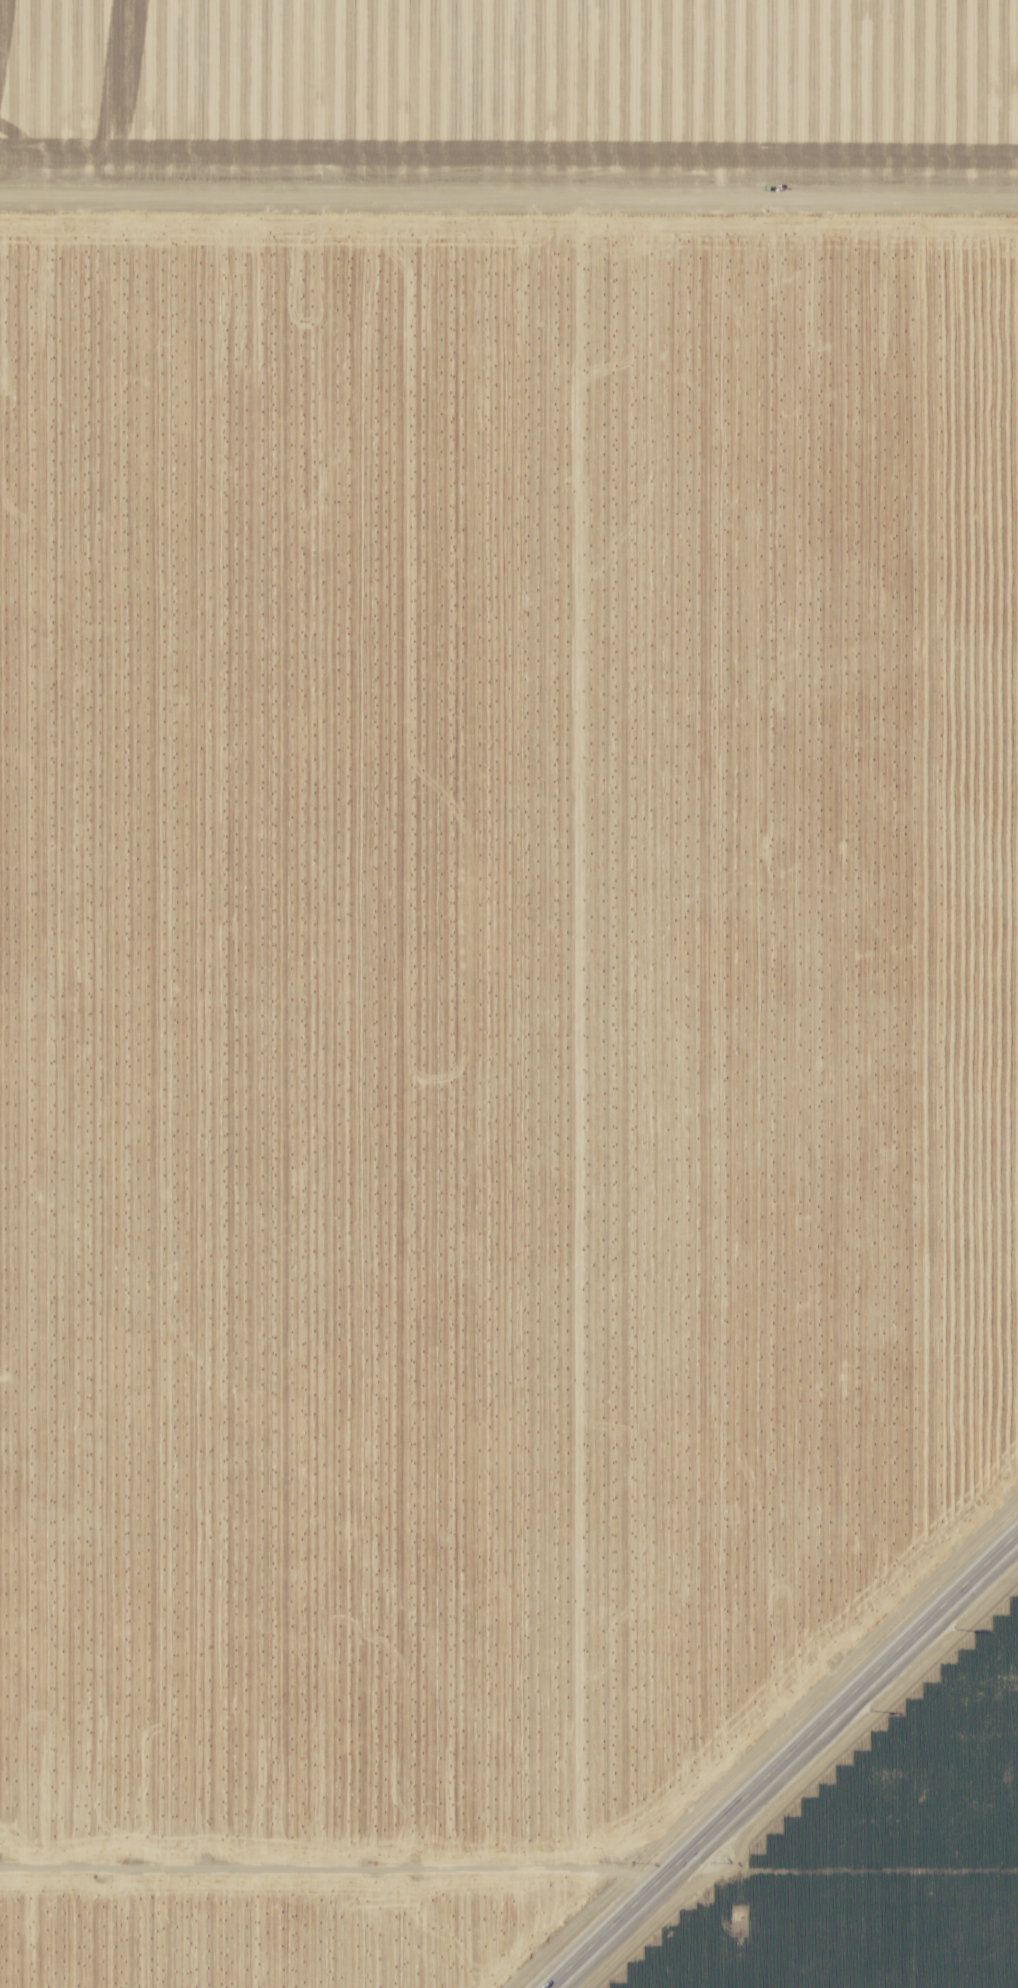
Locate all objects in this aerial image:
road: (791, 1768)

